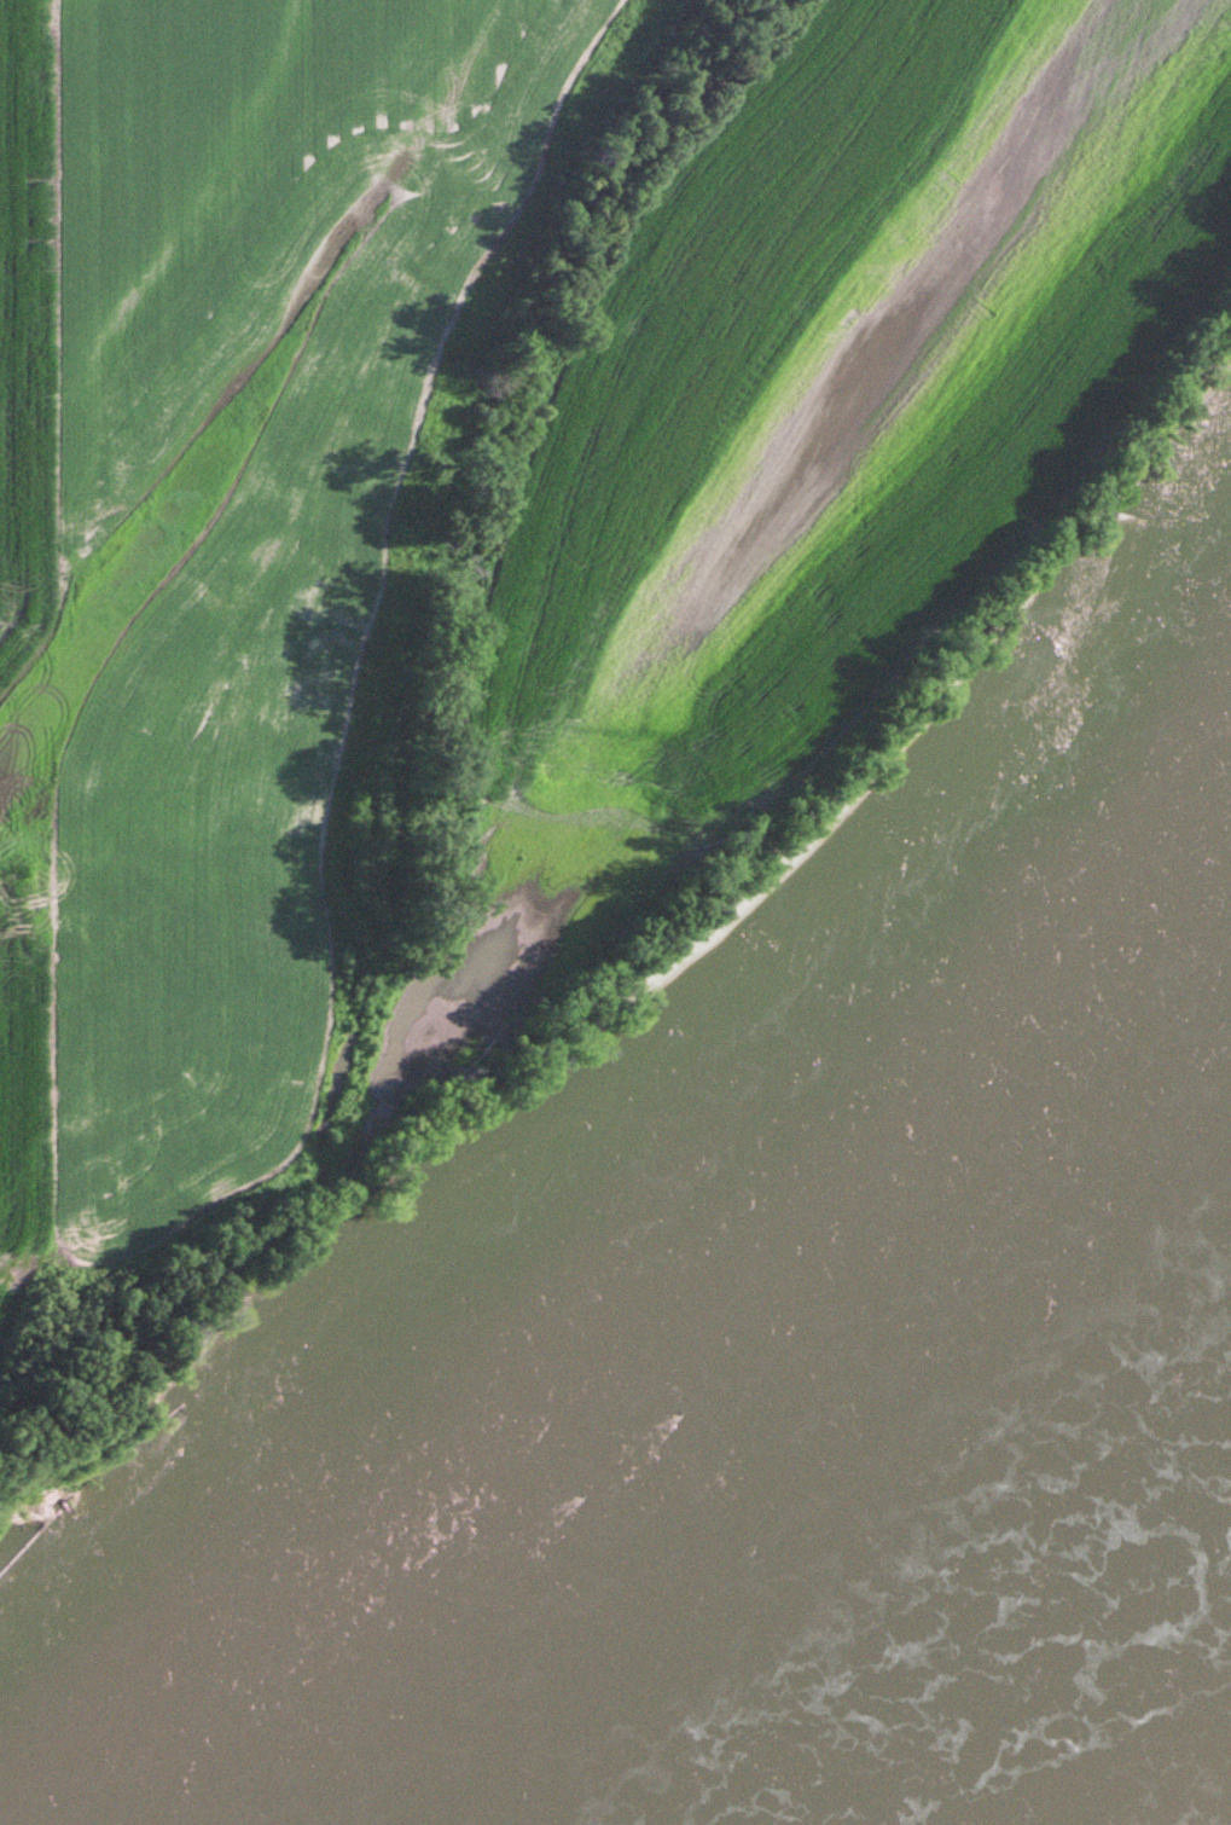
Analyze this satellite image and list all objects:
river: (1061, 1658)

